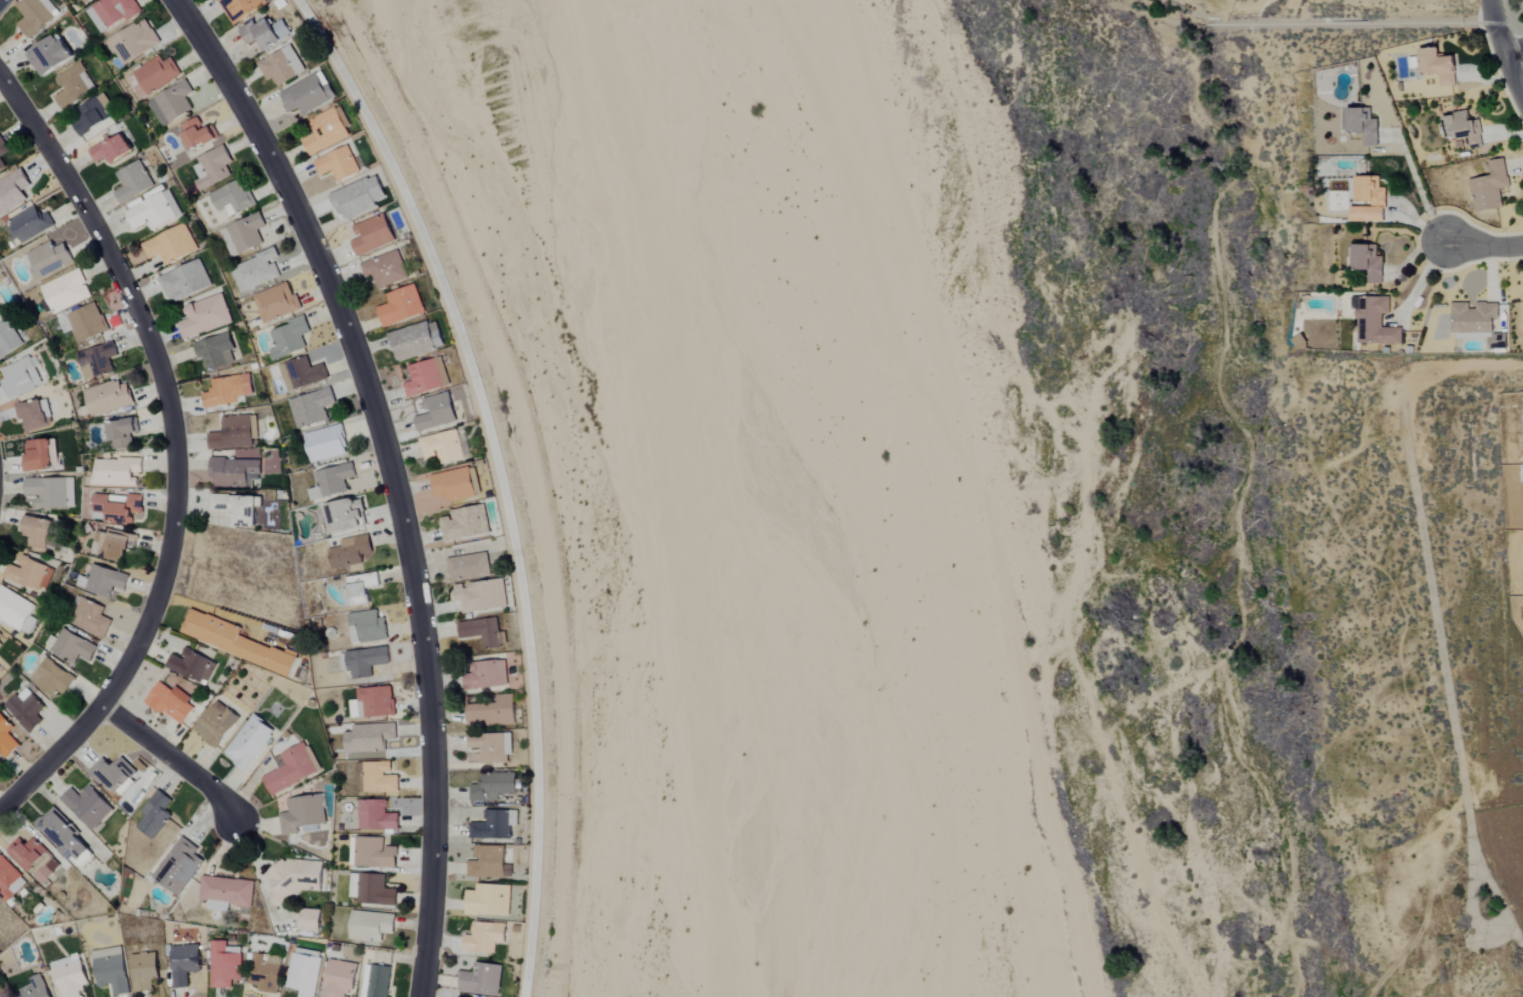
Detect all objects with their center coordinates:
building: (83, 0)
building: (240, 8)
building: (113, 11)
building: (35, 16)
road: (1356, 24)
building: (264, 33)
building: (132, 42)
road: (1503, 46)
road: (1515, 53)
building: (49, 56)
building: (1415, 63)
building: (280, 66)
building: (1440, 67)
building: (151, 76)
building: (73, 86)
building: (306, 95)
building: (171, 104)
building: (91, 115)
building: (1363, 126)
building: (1464, 129)
building: (324, 131)
building: (197, 134)
building: (3, 148)
building: (112, 150)
building: (1, 165)
building: (337, 165)
building: (211, 168)
building: (133, 182)
building: (1490, 188)
road: (1418, 189)
building: (13, 191)
building: (358, 198)
building: (231, 199)
building: (1370, 201)
building: (154, 212)
building: (28, 225)
building: (245, 233)
building: (371, 235)
building: (171, 246)
road: (1484, 246)
building: (1369, 264)
building: (384, 270)
building: (255, 271)
building: (185, 281)
building: (66, 291)
building: (275, 303)
building: (400, 306)
building: (0, 314)
building: (205, 317)
building: (1475, 318)
building: (1374, 321)
building: (86, 323)
building: (288, 338)
building: (8, 339)
building: (1489, 339)
building: (415, 340)
building: (1300, 343)
building: (215, 352)
building: (97, 361)
building: (301, 374)
building: (20, 378)
building: (425, 378)
building: (227, 391)
building: (109, 398)
building: (310, 408)
building: (436, 412)
building: (32, 415)
building: (234, 433)
building: (122, 434)
building: (325, 444)
building: (441, 447)
building: (463, 447)
road: (171, 449)
building: (41, 456)
building: (116, 472)
building: (235, 473)
road: (393, 475)
road: (499, 478)
building: (331, 482)
river: (825, 482)
building: (455, 484)
building: (51, 493)
building: (118, 507)
building: (238, 509)
building: (344, 517)
building: (464, 524)
building: (37, 533)
building: (111, 547)
building: (350, 552)
building: (468, 567)
building: (30, 575)
building: (102, 581)
building: (361, 588)
building: (480, 596)
building: (16, 611)
building: (91, 619)
building: (366, 627)
building: (483, 632)
building: (1, 637)
building: (234, 643)
building: (71, 647)
building: (365, 662)
building: (191, 666)
building: (485, 675)
building: (52, 679)
building: (171, 703)
building: (372, 703)
building: (26, 712)
building: (493, 713)
building: (216, 725)
building: (6, 738)
building: (369, 738)
building: (248, 743)
building: (492, 747)
road: (175, 762)
building: (292, 769)
building: (112, 773)
building: (379, 778)
building: (493, 787)
building: (87, 806)
building: (154, 814)
building: (302, 815)
building: (376, 816)
building: (494, 825)
building: (63, 835)
building: (374, 853)
building: (34, 858)
building: (489, 863)
building: (178, 866)
building: (293, 878)
building: (9, 880)
building: (374, 890)
building: (225, 892)
building: (488, 900)
building: (309, 921)
building: (370, 925)
building: (484, 937)
building: (184, 964)
building: (224, 964)
building: (111, 970)
building: (144, 971)
building: (265, 972)
building: (304, 972)
building: (69, 976)
building: (340, 979)
building: (481, 979)
building: (379, 981)
building: (34, 988)

